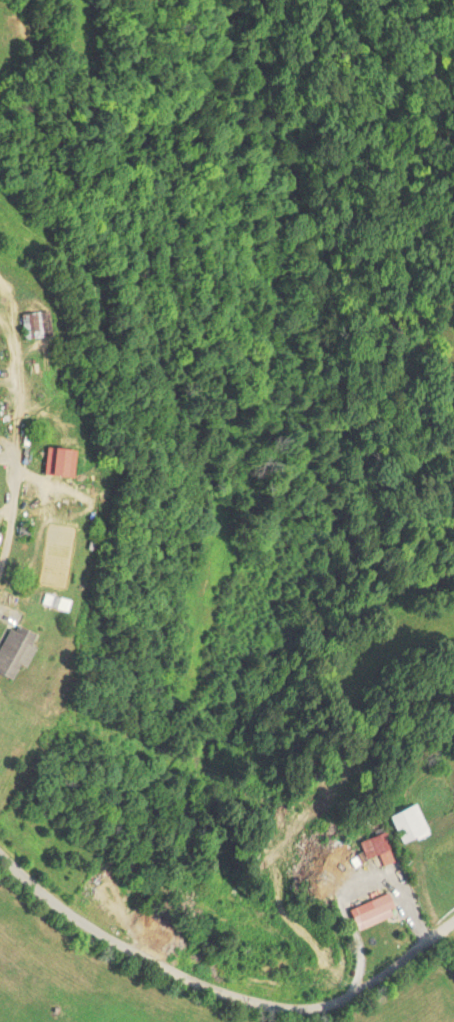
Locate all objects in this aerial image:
building: (37, 323)
road: (38, 425)
building: (60, 461)
building: (54, 601)
building: (14, 649)
building: (409, 822)
building: (378, 845)
building: (106, 894)
building: (372, 909)
road: (218, 993)

